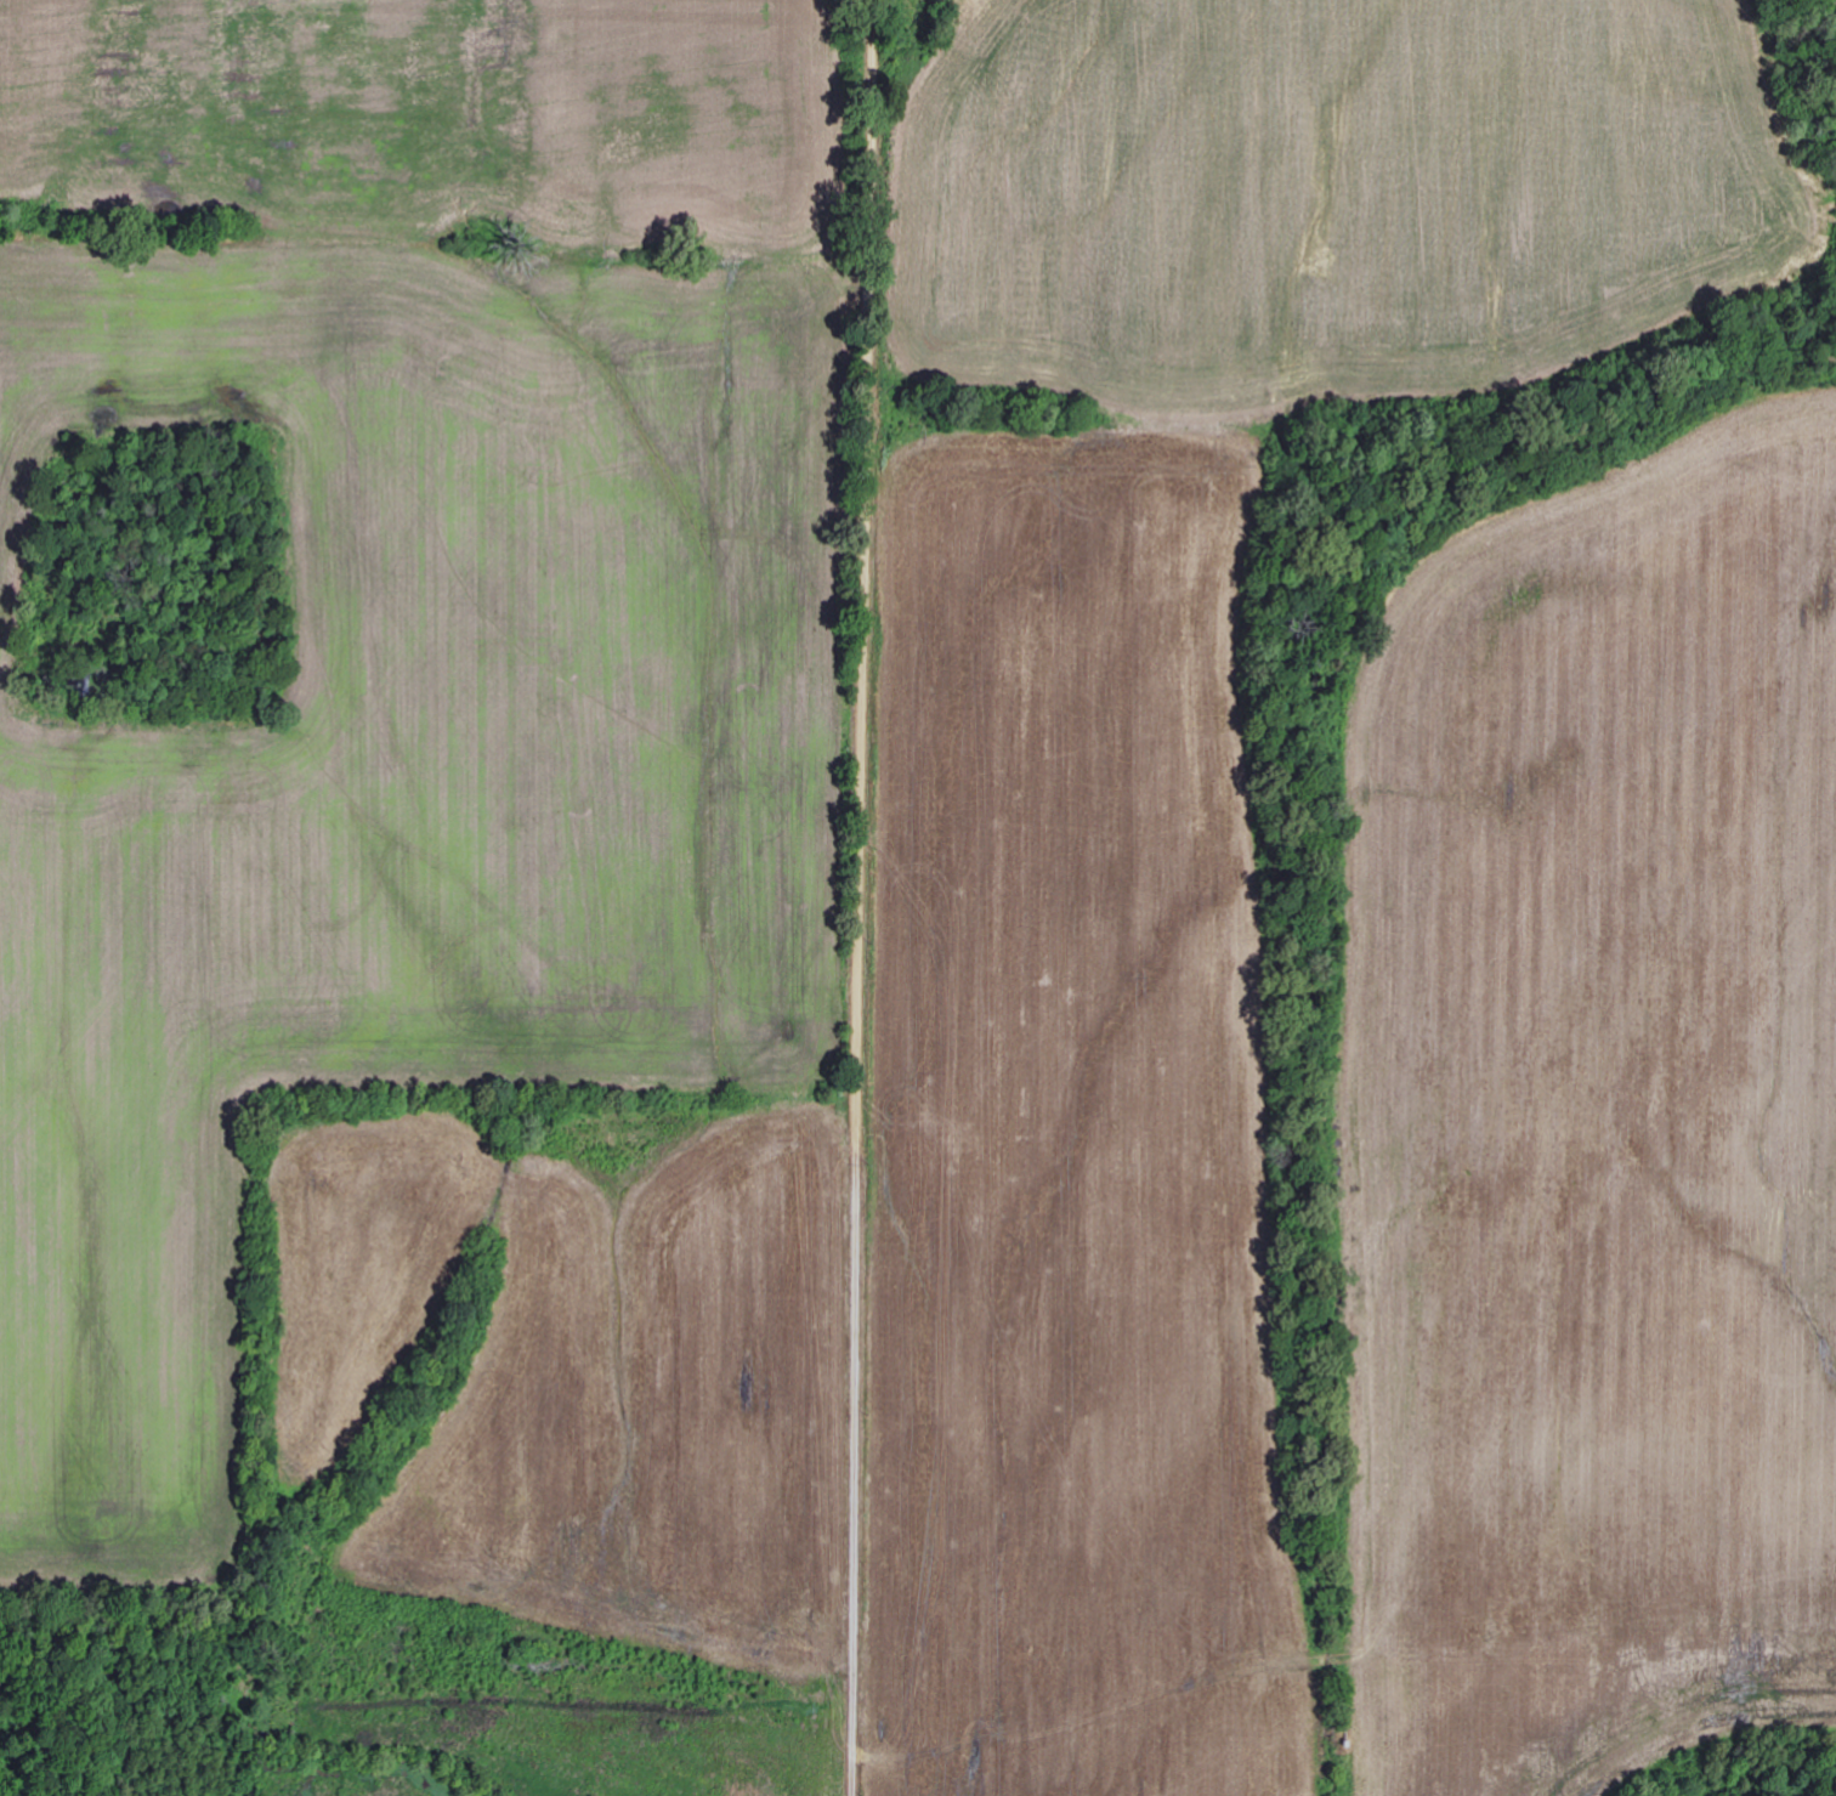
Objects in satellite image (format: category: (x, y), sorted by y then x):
road: (873, 181)

